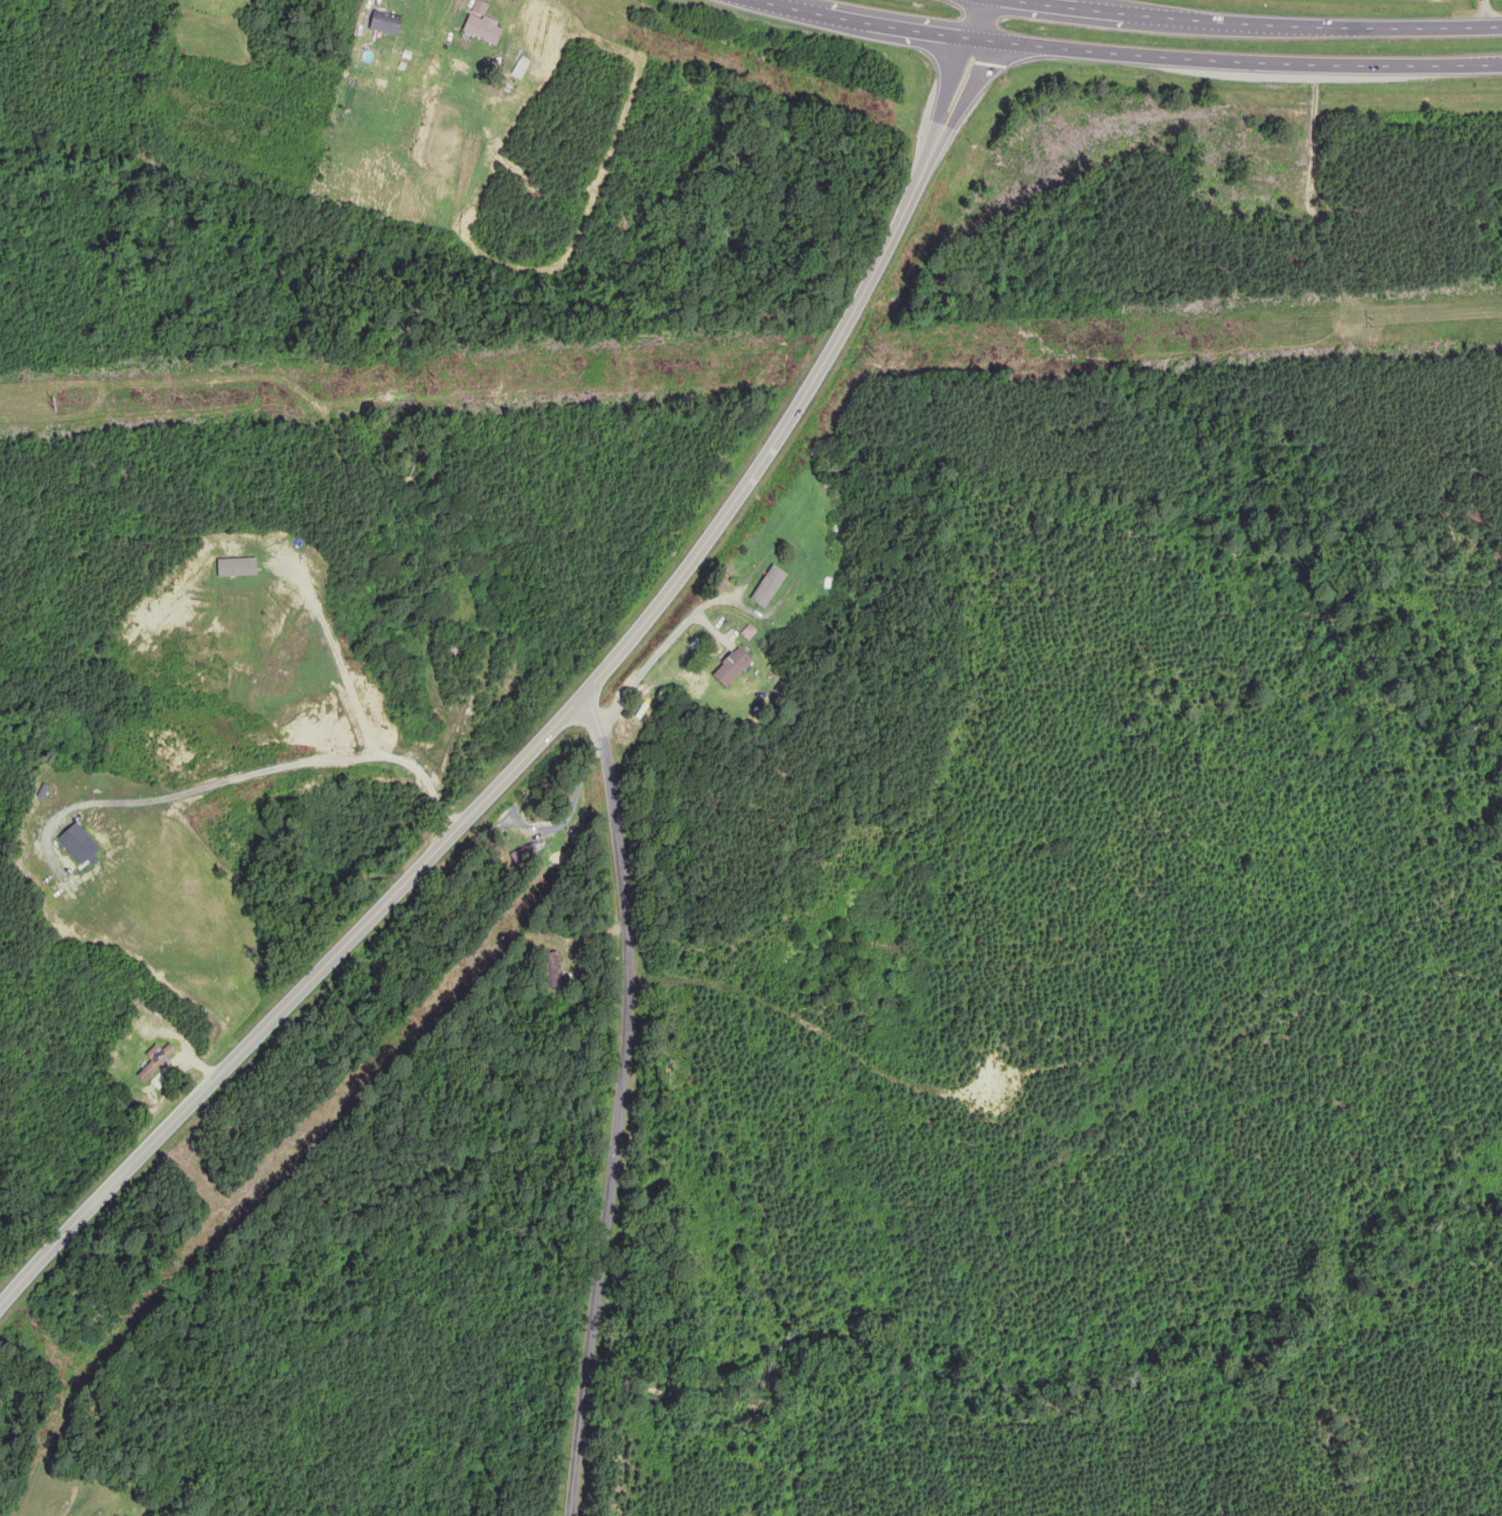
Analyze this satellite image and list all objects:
road: (1253, 23)
building: (383, 24)
building: (480, 29)
road: (1126, 54)
building: (836, 495)
building: (765, 587)
building: (730, 667)
road: (570, 707)
building: (525, 854)
building: (153, 1060)
road: (616, 1099)

